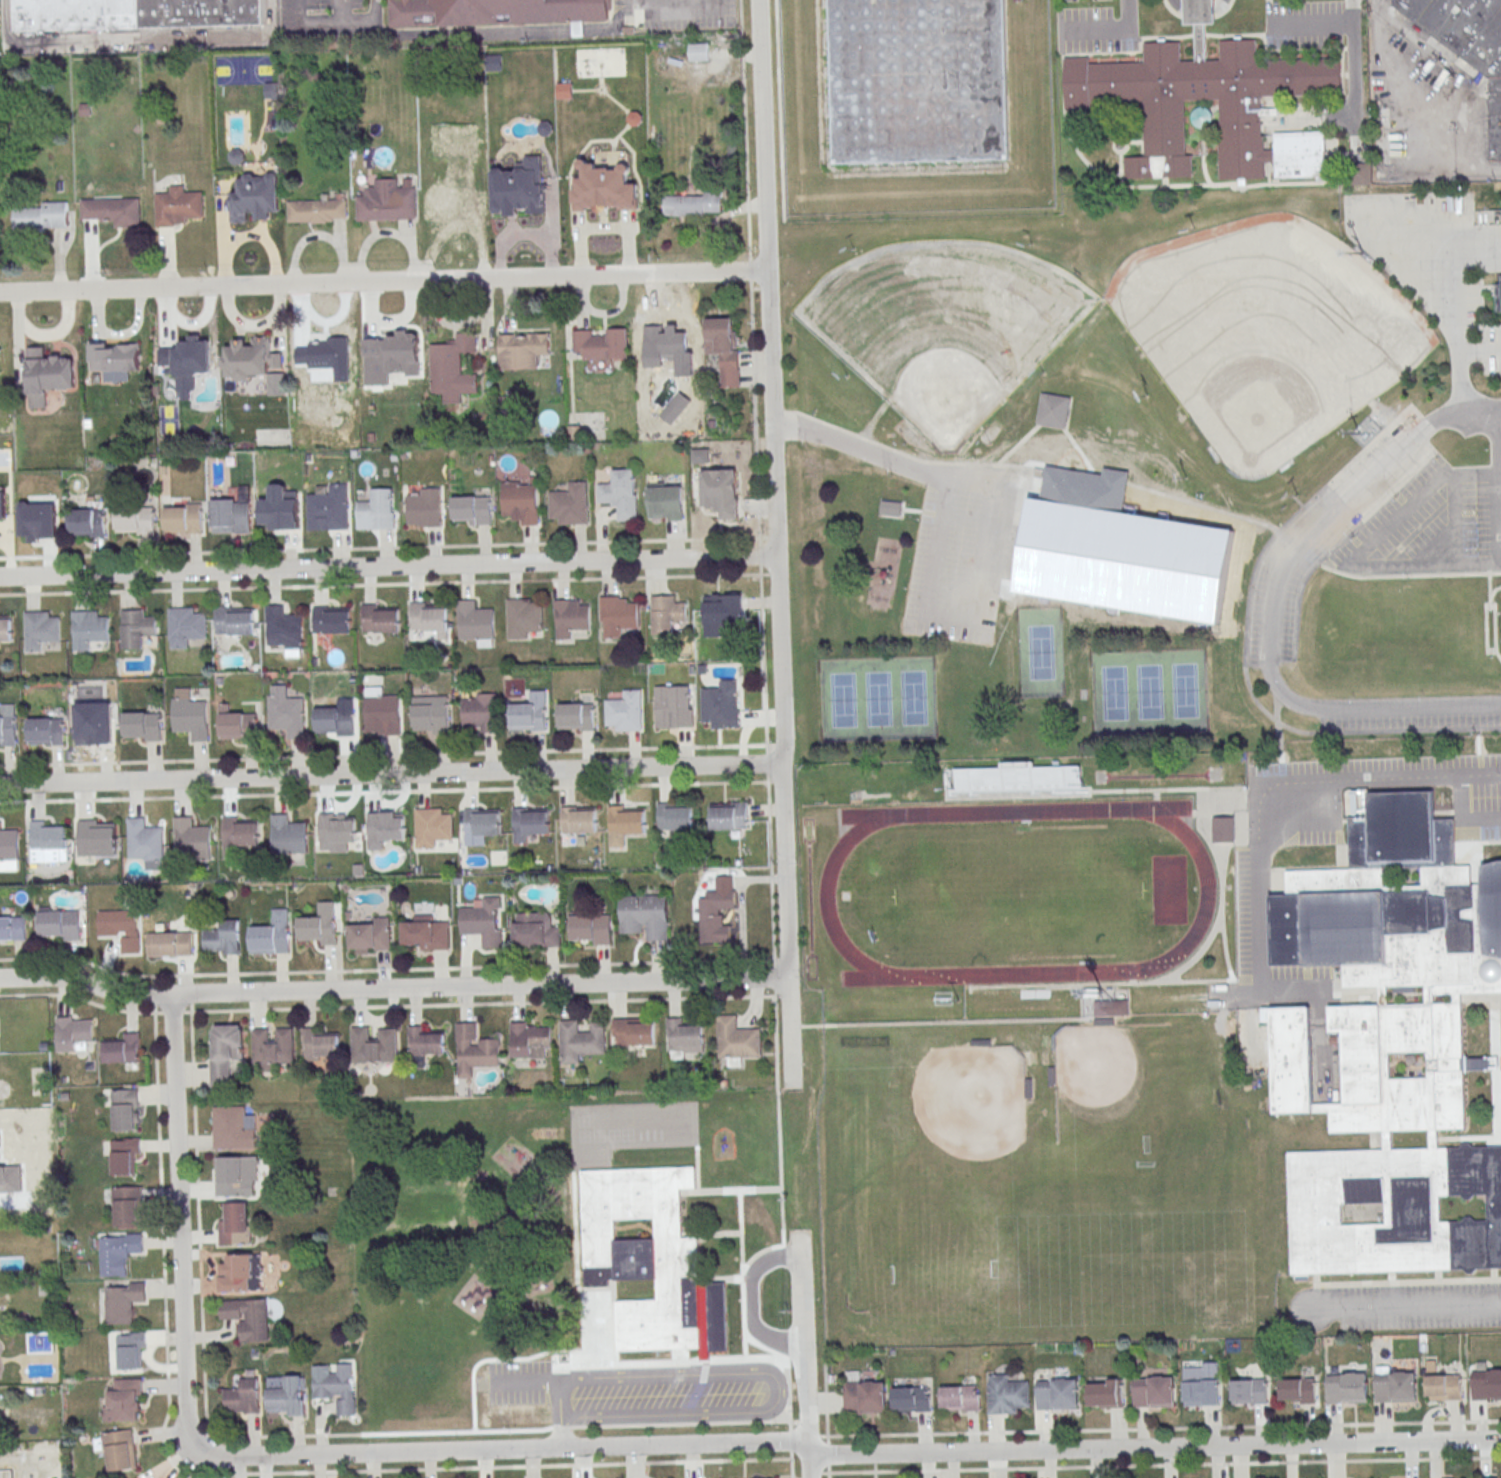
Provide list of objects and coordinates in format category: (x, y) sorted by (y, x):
road: (674, 5)
road: (340, 11)
building: (491, 11)
building: (131, 14)
road: (5, 22)
road: (336, 22)
road: (1321, 24)
road: (1114, 26)
road: (462, 34)
road: (158, 41)
building: (1469, 45)
building: (698, 52)
road: (1353, 59)
building: (903, 77)
building: (1203, 77)
building: (270, 91)
road: (779, 110)
road: (744, 130)
road: (1394, 137)
building: (237, 157)
building: (1362, 173)
building: (520, 187)
building: (604, 188)
building: (256, 197)
building: (387, 201)
building: (454, 202)
building: (694, 204)
building: (178, 205)
building: (317, 209)
building: (113, 210)
building: (1500, 214)
building: (42, 216)
road: (749, 270)
road: (383, 281)
building: (1497, 296)
road: (1454, 322)
park: (943, 327)
park: (1266, 332)
building: (666, 342)
building: (601, 344)
building: (391, 346)
building: (723, 348)
building: (523, 349)
road: (1478, 349)
building: (323, 351)
building: (188, 359)
building: (114, 360)
building: (255, 362)
building: (453, 367)
building: (47, 374)
building: (1051, 409)
road: (754, 412)
stadium: (990, 429)
stadium: (1189, 430)
stadium: (904, 431)
stadium: (1314, 450)
road: (883, 457)
park: (1145, 474)
road: (1495, 485)
building: (721, 492)
building: (620, 494)
building: (520, 501)
building: (3, 502)
building: (664, 503)
building: (569, 504)
building: (425, 507)
building: (330, 508)
building: (378, 509)
building: (472, 510)
building: (281, 512)
building: (231, 516)
building: (183, 518)
building: (135, 519)
road: (1453, 520)
building: (87, 521)
building: (38, 523)
parking lot: (1429, 526)
parking lot: (1325, 532)
building: (1096, 539)
road: (775, 545)
road: (379, 548)
road: (1437, 549)
road: (1360, 551)
parking lot: (959, 552)
road: (759, 556)
road: (387, 566)
road: (380, 584)
road: (1271, 601)
building: (722, 610)
building: (667, 614)
building: (617, 615)
building: (428, 616)
building: (523, 617)
building: (570, 617)
building: (380, 619)
road: (948, 619)
building: (330, 620)
building: (234, 621)
building: (475, 621)
building: (185, 626)
building: (136, 628)
building: (6, 629)
building: (40, 629)
building: (88, 629)
building: (285, 631)
park: (1040, 651)
park: (1149, 690)
park: (875, 697)
building: (674, 706)
building: (721, 709)
building: (624, 711)
building: (480, 712)
building: (384, 713)
building: (529, 713)
building: (431, 714)
building: (288, 715)
parking lot: (1410, 716)
building: (575, 717)
building: (191, 718)
building: (336, 719)
building: (94, 721)
building: (8, 726)
building: (237, 726)
building: (142, 727)
building: (44, 731)
road: (383, 755)
road: (767, 768)
road: (390, 774)
road: (1386, 775)
stadium: (1010, 781)
road: (383, 791)
road: (1466, 812)
building: (728, 815)
building: (674, 818)
building: (577, 820)
building: (529, 821)
building: (626, 821)
building: (481, 823)
building: (432, 827)
building: (383, 829)
building: (1223, 829)
building: (335, 831)
building: (240, 832)
building: (288, 836)
building: (97, 839)
building: (191, 840)
building: (48, 841)
building: (145, 841)
building: (9, 850)
park: (1017, 892)
track: (1017, 893)
building: (714, 914)
building: (646, 915)
building: (482, 922)
building: (59, 925)
building: (118, 925)
building: (318, 925)
building: (591, 928)
building: (13, 929)
building: (535, 930)
building: (272, 934)
building: (426, 934)
building: (370, 935)
building: (223, 939)
building: (169, 941)
road: (781, 960)
road: (1255, 966)
road: (388, 969)
road: (774, 981)
road: (392, 989)
road: (782, 996)
stadium: (1019, 999)
road: (387, 1006)
building: (1109, 1007)
building: (72, 1032)
building: (634, 1032)
stadium: (1005, 1037)
building: (736, 1038)
building: (683, 1039)
building: (528, 1040)
building: (580, 1040)
building: (425, 1042)
stadium: (1044, 1042)
building: (1388, 1043)
building: (321, 1045)
building: (373, 1045)
building: (272, 1046)
building: (123, 1049)
building: (474, 1050)
building: (224, 1052)
building: (124, 1108)
building: (232, 1128)
road: (779, 1144)
building: (125, 1156)
building: (12, 1161)
road: (697, 1169)
building: (236, 1176)
road: (729, 1190)
building: (126, 1205)
road: (178, 1220)
building: (235, 1224)
road: (740, 1231)
road: (162, 1251)
building: (118, 1253)
building: (651, 1260)
building: (238, 1272)
road: (200, 1295)
road: (743, 1300)
building: (123, 1301)
road: (1406, 1305)
building: (248, 1317)
building: (132, 1351)
road: (803, 1354)
road: (750, 1359)
road: (787, 1367)
road: (641, 1374)
building: (1442, 1385)
building: (1486, 1385)
building: (1397, 1386)
building: (1348, 1387)
building: (338, 1388)
building: (1297, 1390)
building: (1155, 1391)
building: (1248, 1391)
building: (1200, 1392)
building: (1058, 1393)
building: (1105, 1393)
building: (863, 1395)
building: (1007, 1395)
building: (286, 1396)
building: (243, 1397)
building: (960, 1398)
building: (911, 1399)
building: (123, 1400)
road: (683, 1411)
road: (562, 1431)
road: (790, 1441)
building: (118, 1449)
road: (1030, 1450)
road: (378, 1452)
road: (827, 1454)
building: (54, 1456)
road: (791, 1465)
building: (18, 1466)
road: (508, 1466)
road: (828, 1475)
building: (135, 1477)

